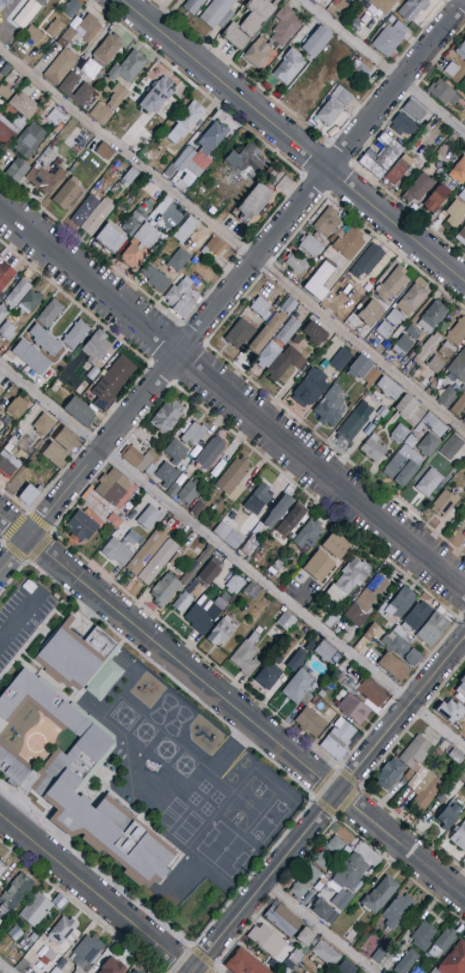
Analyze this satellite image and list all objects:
building: (384, 5)
building: (1, 6)
building: (193, 6)
building: (71, 9)
building: (420, 11)
building: (28, 12)
building: (218, 13)
building: (247, 24)
building: (284, 26)
building: (53, 28)
building: (89, 28)
building: (34, 34)
building: (67, 37)
building: (387, 41)
building: (317, 42)
building: (107, 50)
building: (461, 50)
building: (261, 53)
building: (464, 63)
road: (383, 66)
building: (60, 67)
building: (128, 67)
building: (289, 67)
building: (6, 69)
building: (360, 70)
building: (451, 70)
building: (85, 91)
building: (4, 92)
building: (441, 92)
building: (157, 95)
building: (343, 95)
building: (24, 105)
building: (109, 106)
building: (413, 111)
building: (330, 116)
building: (55, 117)
building: (188, 119)
building: (402, 125)
building: (7, 133)
building: (212, 138)
building: (29, 140)
road: (293, 141)
building: (153, 149)
building: (47, 151)
building: (104, 151)
building: (387, 151)
building: (189, 163)
building: (244, 163)
building: (372, 166)
building: (398, 169)
building: (19, 171)
building: (458, 172)
building: (130, 176)
building: (44, 177)
building: (421, 186)
building: (67, 194)
building: (462, 195)
building: (436, 198)
building: (254, 201)
building: (84, 211)
building: (455, 214)
building: (97, 217)
building: (327, 222)
building: (133, 223)
building: (171, 224)
building: (186, 230)
building: (461, 236)
building: (332, 238)
building: (110, 239)
road: (233, 240)
building: (348, 243)
building: (139, 245)
building: (312, 245)
building: (214, 246)
building: (369, 259)
building: (178, 260)
building: (296, 264)
building: (5, 274)
building: (155, 278)
building: (319, 281)
building: (392, 286)
road: (233, 287)
building: (178, 291)
building: (17, 294)
building: (0, 300)
building: (412, 300)
building: (29, 302)
building: (183, 306)
building: (261, 308)
building: (3, 313)
building: (50, 313)
building: (371, 314)
building: (432, 316)
building: (395, 318)
building: (384, 330)
building: (7, 331)
building: (268, 331)
building: (288, 331)
building: (414, 332)
building: (457, 332)
building: (76, 334)
building: (240, 334)
building: (315, 334)
building: (297, 340)
building: (45, 341)
building: (403, 346)
building: (95, 348)
building: (427, 349)
building: (446, 350)
building: (268, 354)
building: (31, 357)
building: (341, 360)
building: (285, 362)
building: (436, 365)
building: (360, 367)
building: (459, 367)
building: (93, 373)
building: (372, 376)
building: (111, 382)
building: (437, 382)
building: (310, 388)
building: (388, 388)
building: (1, 391)
building: (448, 397)
road: (232, 399)
building: (17, 407)
building: (330, 407)
building: (459, 407)
building: (409, 410)
building: (80, 411)
building: (381, 413)
building: (167, 416)
building: (463, 420)
building: (0, 421)
building: (356, 421)
building: (44, 425)
building: (431, 425)
building: (4, 429)
building: (194, 434)
building: (364, 434)
building: (399, 434)
building: (67, 440)
building: (410, 441)
building: (428, 445)
building: (9, 447)
building: (452, 447)
building: (373, 448)
building: (176, 452)
building: (210, 452)
building: (55, 455)
building: (139, 458)
building: (8, 464)
building: (402, 466)
building: (151, 469)
building: (167, 474)
building: (233, 479)
building: (428, 482)
building: (115, 488)
building: (172, 490)
building: (188, 493)
building: (29, 494)
building: (258, 499)
building: (444, 502)
building: (197, 509)
building: (277, 511)
road: (28, 514)
building: (149, 517)
building: (114, 520)
building: (291, 520)
building: (83, 526)
building: (308, 535)
building: (228, 536)
building: (141, 541)
road: (2, 545)
building: (336, 545)
building: (250, 546)
building: (116, 551)
building: (146, 552)
road: (231, 559)
building: (256, 559)
building: (158, 562)
building: (196, 565)
building: (277, 565)
building: (319, 565)
building: (209, 572)
building: (348, 581)
building: (234, 585)
building: (193, 586)
building: (164, 591)
building: (251, 591)
building: (366, 601)
building: (183, 602)
building: (397, 606)
building: (205, 614)
building: (415, 617)
road: (19, 618)
parking lot: (22, 619)
building: (286, 621)
building: (433, 629)
building: (221, 631)
building: (402, 634)
building: (369, 640)
building: (402, 649)
road: (195, 650)
building: (325, 651)
building: (246, 655)
building: (296, 659)
building: (80, 660)
building: (278, 660)
building: (394, 667)
building: (268, 676)
building: (341, 679)
building: (299, 687)
building: (461, 689)
building: (372, 692)
road: (232, 706)
building: (354, 709)
building: (450, 711)
building: (311, 723)
building: (343, 735)
building: (333, 749)
building: (415, 753)
building: (456, 756)
road: (338, 769)
building: (391, 774)
building: (462, 779)
building: (79, 781)
building: (423, 789)
road: (328, 805)
road: (303, 811)
building: (449, 816)
building: (459, 836)
building: (335, 846)
building: (348, 850)
building: (324, 860)
building: (2, 868)
building: (352, 873)
building: (311, 875)
building: (299, 889)
road: (276, 892)
building: (15, 893)
road: (95, 893)
building: (322, 894)
building: (340, 894)
building: (379, 895)
building: (56, 899)
road: (79, 907)
building: (36, 910)
building: (397, 910)
building: (325, 911)
building: (282, 919)
building: (1, 928)
road: (318, 928)
building: (16, 929)
building: (62, 930)
building: (423, 936)
building: (305, 937)
building: (266, 940)
building: (27, 941)
building: (442, 943)
road: (193, 949)
building: (86, 952)
building: (379, 953)
building: (326, 954)
building: (50, 955)
building: (295, 958)
building: (44, 960)
building: (454, 960)
building: (406, 962)
building: (244, 963)
building: (60, 966)
building: (111, 966)
road: (5, 968)
building: (346, 968)
building: (287, 970)
building: (78, 971)
building: (134, 971)
building: (415, 971)
building: (435, 971)
building: (291, 972)

